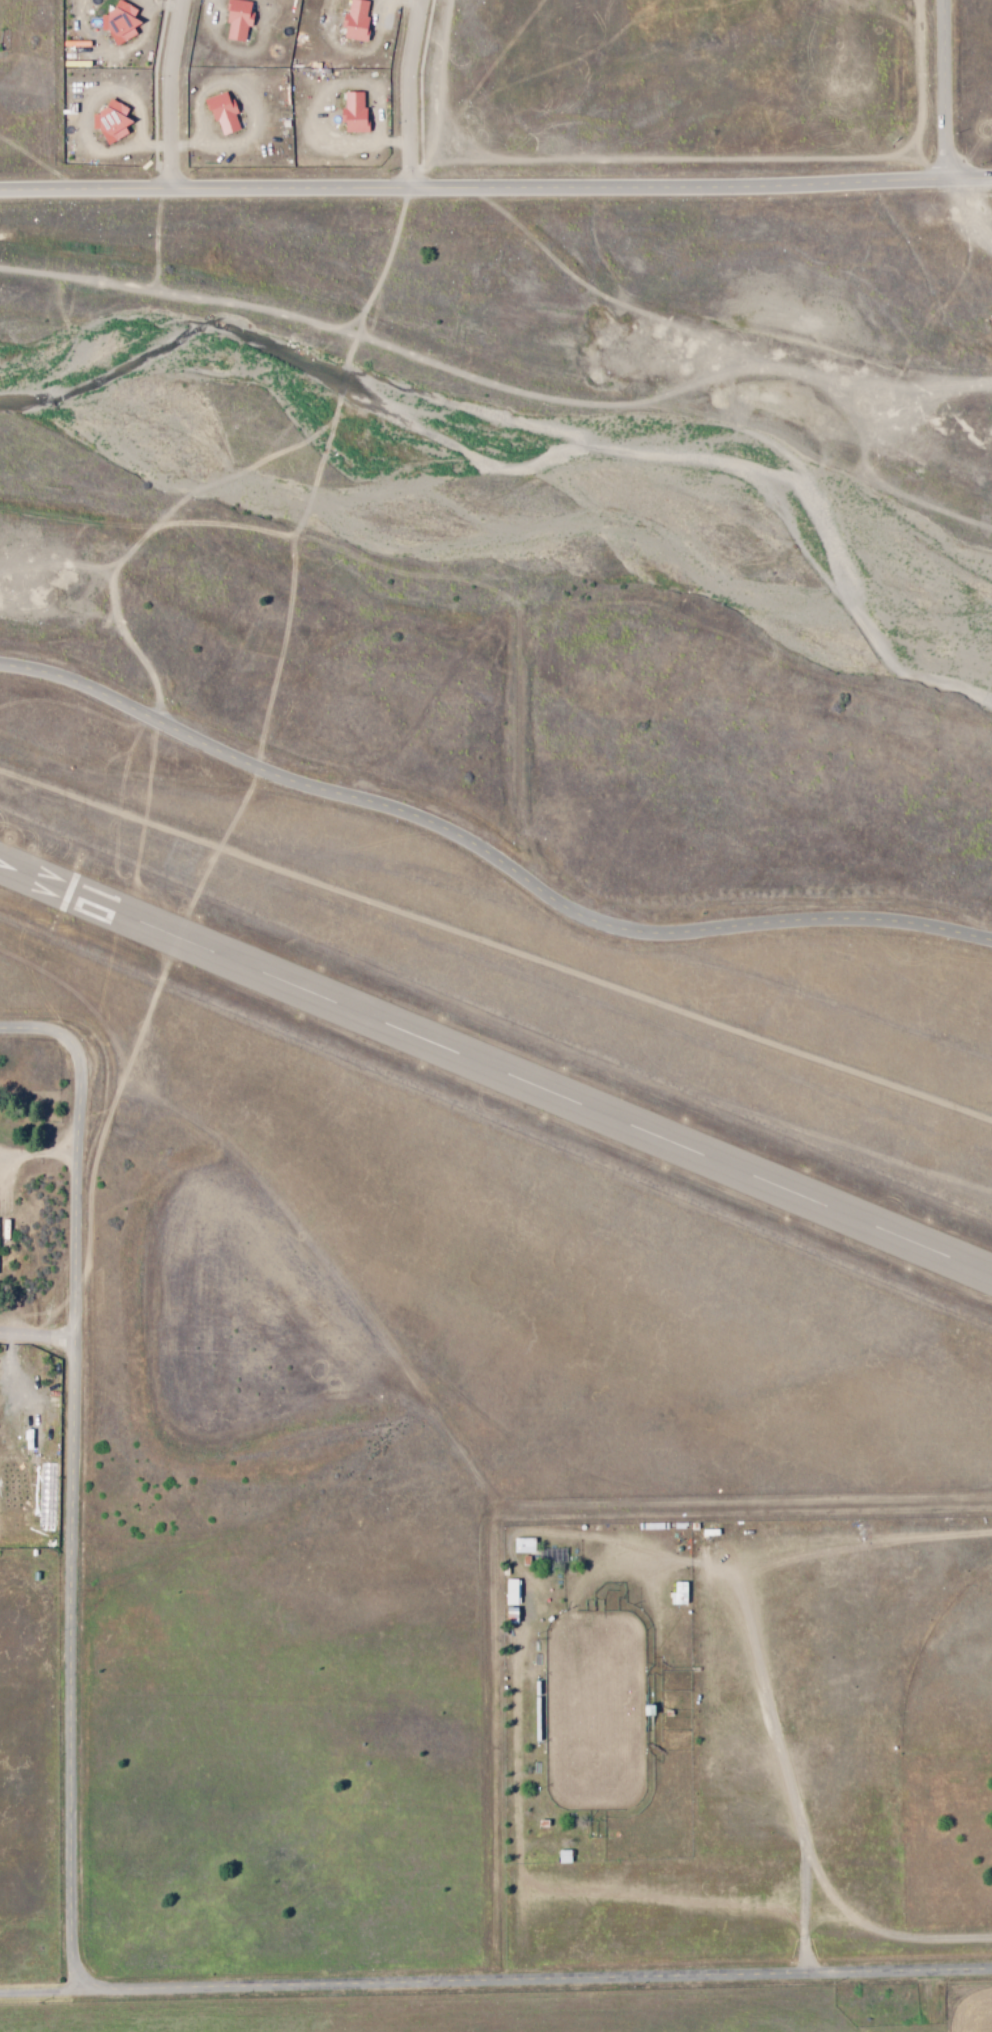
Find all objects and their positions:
building: (240, 19)
building: (121, 21)
building: (357, 21)
road: (951, 88)
road: (406, 90)
road: (167, 91)
building: (224, 112)
building: (355, 113)
building: (112, 121)
road: (495, 180)
road: (489, 849)
airport runway: (496, 1070)
airport: (439, 1304)
road: (79, 1474)
building: (526, 1545)
building: (513, 1592)
building: (681, 1594)
park: (953, 1678)
building: (565, 1857)
road: (535, 1981)
road: (39, 1991)

